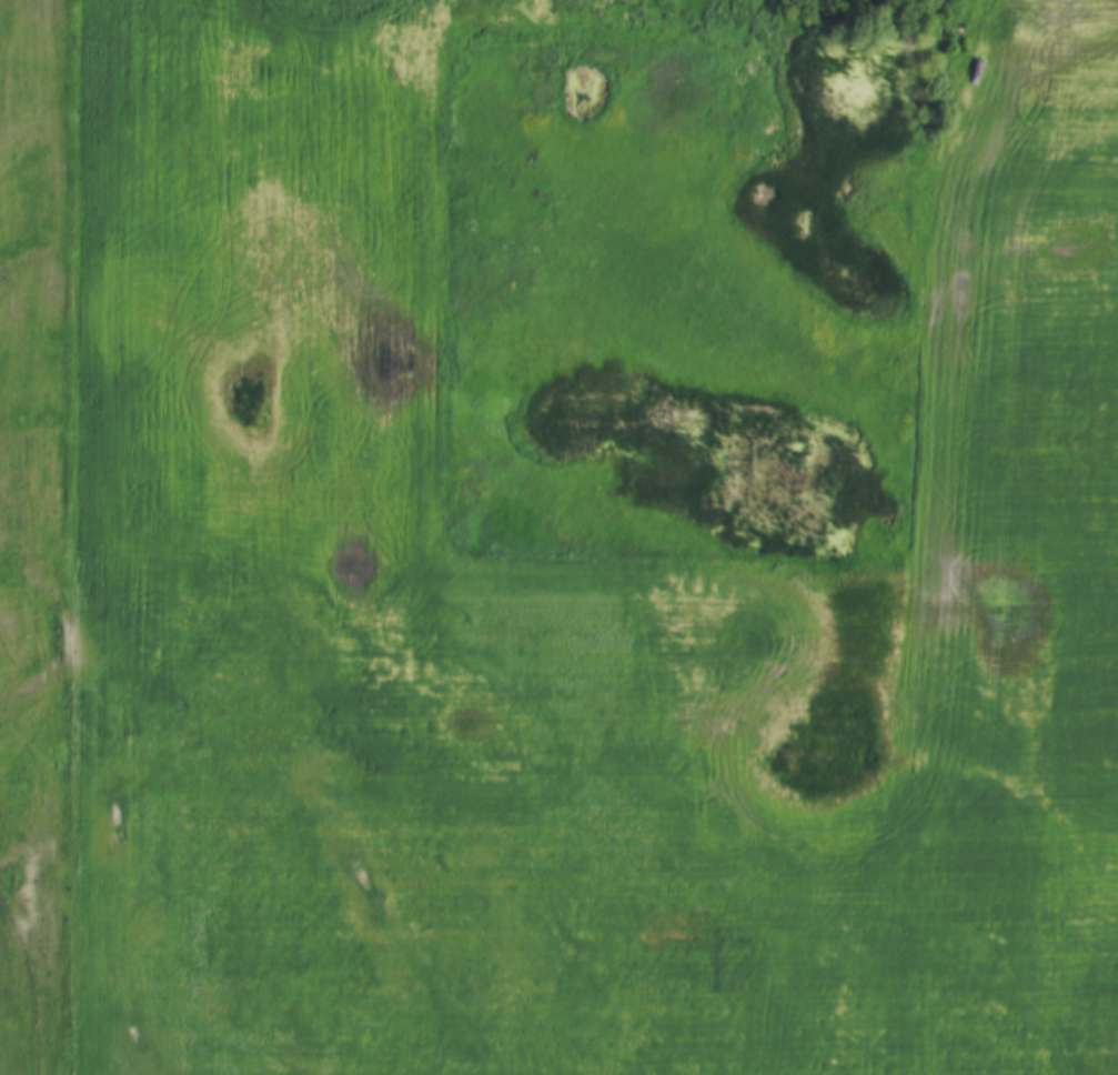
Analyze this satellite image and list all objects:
road: (31, 986)

